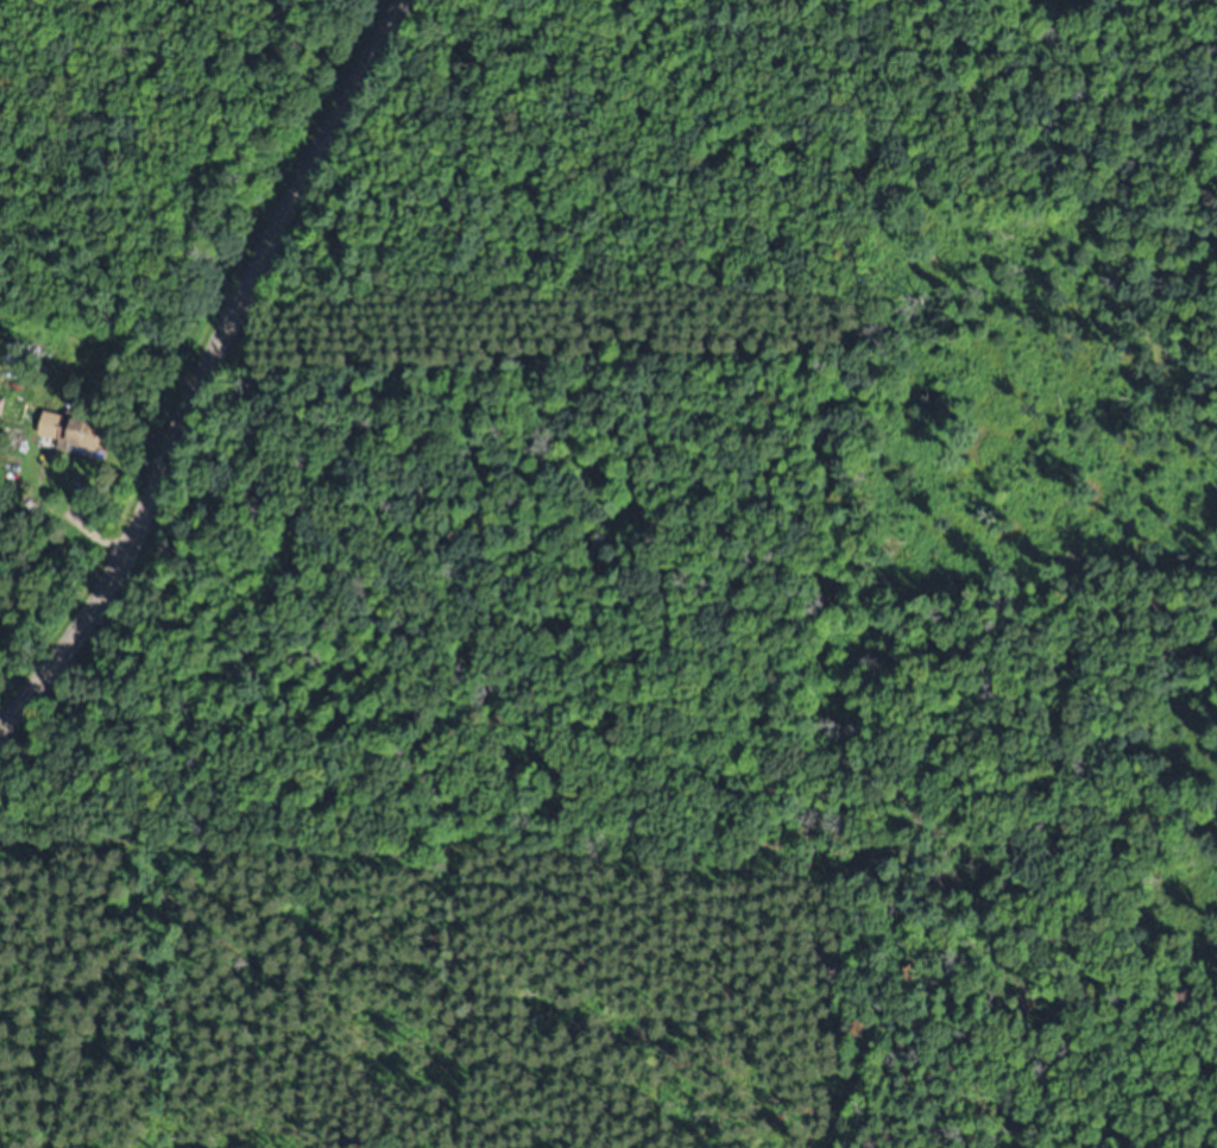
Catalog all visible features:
building: (21, 354)
road: (207, 366)
building: (2, 406)
building: (76, 431)

